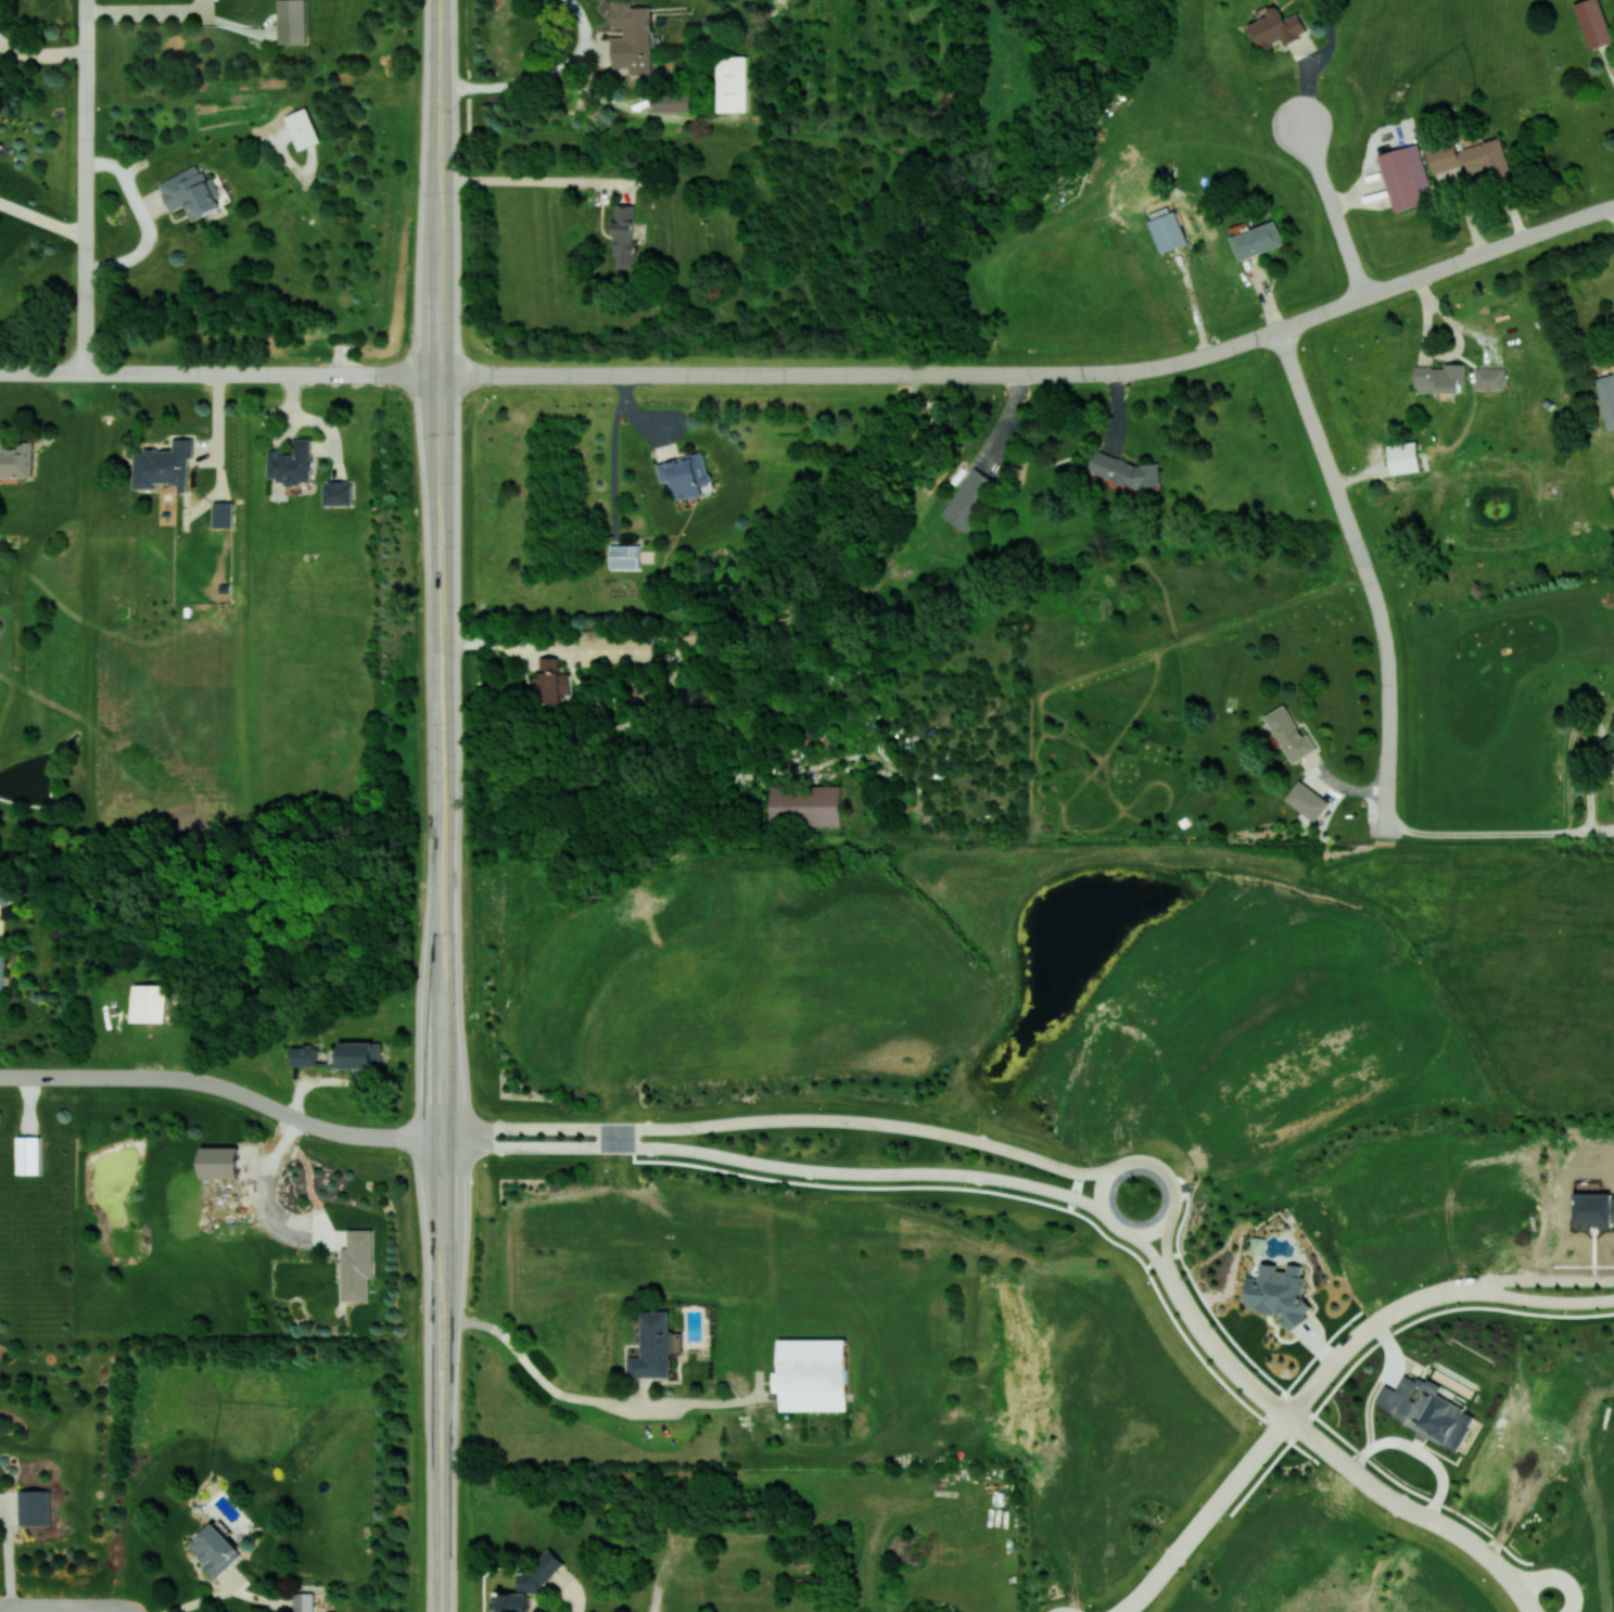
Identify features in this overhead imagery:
road: (150, 15)
building: (292, 22)
building: (1593, 23)
building: (1276, 27)
building: (632, 37)
road: (439, 45)
road: (41, 52)
road: (543, 77)
building: (733, 84)
building: (671, 101)
building: (303, 128)
road: (439, 134)
building: (1443, 156)
building: (1488, 160)
building: (1406, 177)
road: (523, 180)
road: (82, 186)
building: (191, 192)
road: (1333, 210)
road: (40, 220)
road: (144, 220)
building: (1168, 231)
building: (624, 237)
building: (1257, 240)
road: (1446, 267)
road: (437, 277)
road: (1156, 367)
road: (218, 372)
road: (753, 375)
road: (454, 376)
road: (473, 376)
building: (1439, 378)
building: (1489, 378)
building: (1606, 397)
road: (1321, 447)
building: (1405, 458)
building: (16, 459)
building: (291, 462)
building: (164, 466)
building: (1123, 470)
building: (685, 474)
building: (338, 493)
road: (437, 496)
building: (968, 498)
building: (223, 513)
building: (625, 556)
building: (617, 649)
road: (1389, 697)
road: (441, 734)
building: (1289, 734)
building: (1307, 800)
building: (805, 805)
road: (1498, 833)
building: (1, 975)
building: (147, 1003)
building: (339, 1055)
road: (213, 1083)
road: (442, 1086)
road: (785, 1119)
road: (430, 1131)
road: (615, 1137)
road: (430, 1140)
building: (28, 1154)
building: (220, 1162)
road: (776, 1165)
road: (1075, 1191)
road: (1022, 1196)
road: (1165, 1224)
road: (1164, 1248)
road: (1154, 1251)
building: (357, 1265)
road: (1170, 1278)
road: (1579, 1278)
road: (1507, 1279)
road: (1451, 1289)
building: (1279, 1293)
road: (1541, 1300)
road: (1385, 1337)
road: (1350, 1343)
building: (652, 1346)
road: (1222, 1356)
road: (526, 1361)
road: (1308, 1365)
building: (811, 1374)
road: (443, 1395)
road: (744, 1398)
road: (662, 1401)
building: (1426, 1411)
road: (1319, 1419)
road: (1242, 1468)
building: (35, 1507)
road: (1414, 1511)
road: (442, 1540)
building: (215, 1550)
road: (1158, 1567)
road: (1558, 1576)
building: (529, 1584)
road: (203, 1600)
building: (303, 1602)
road: (46, 1605)

